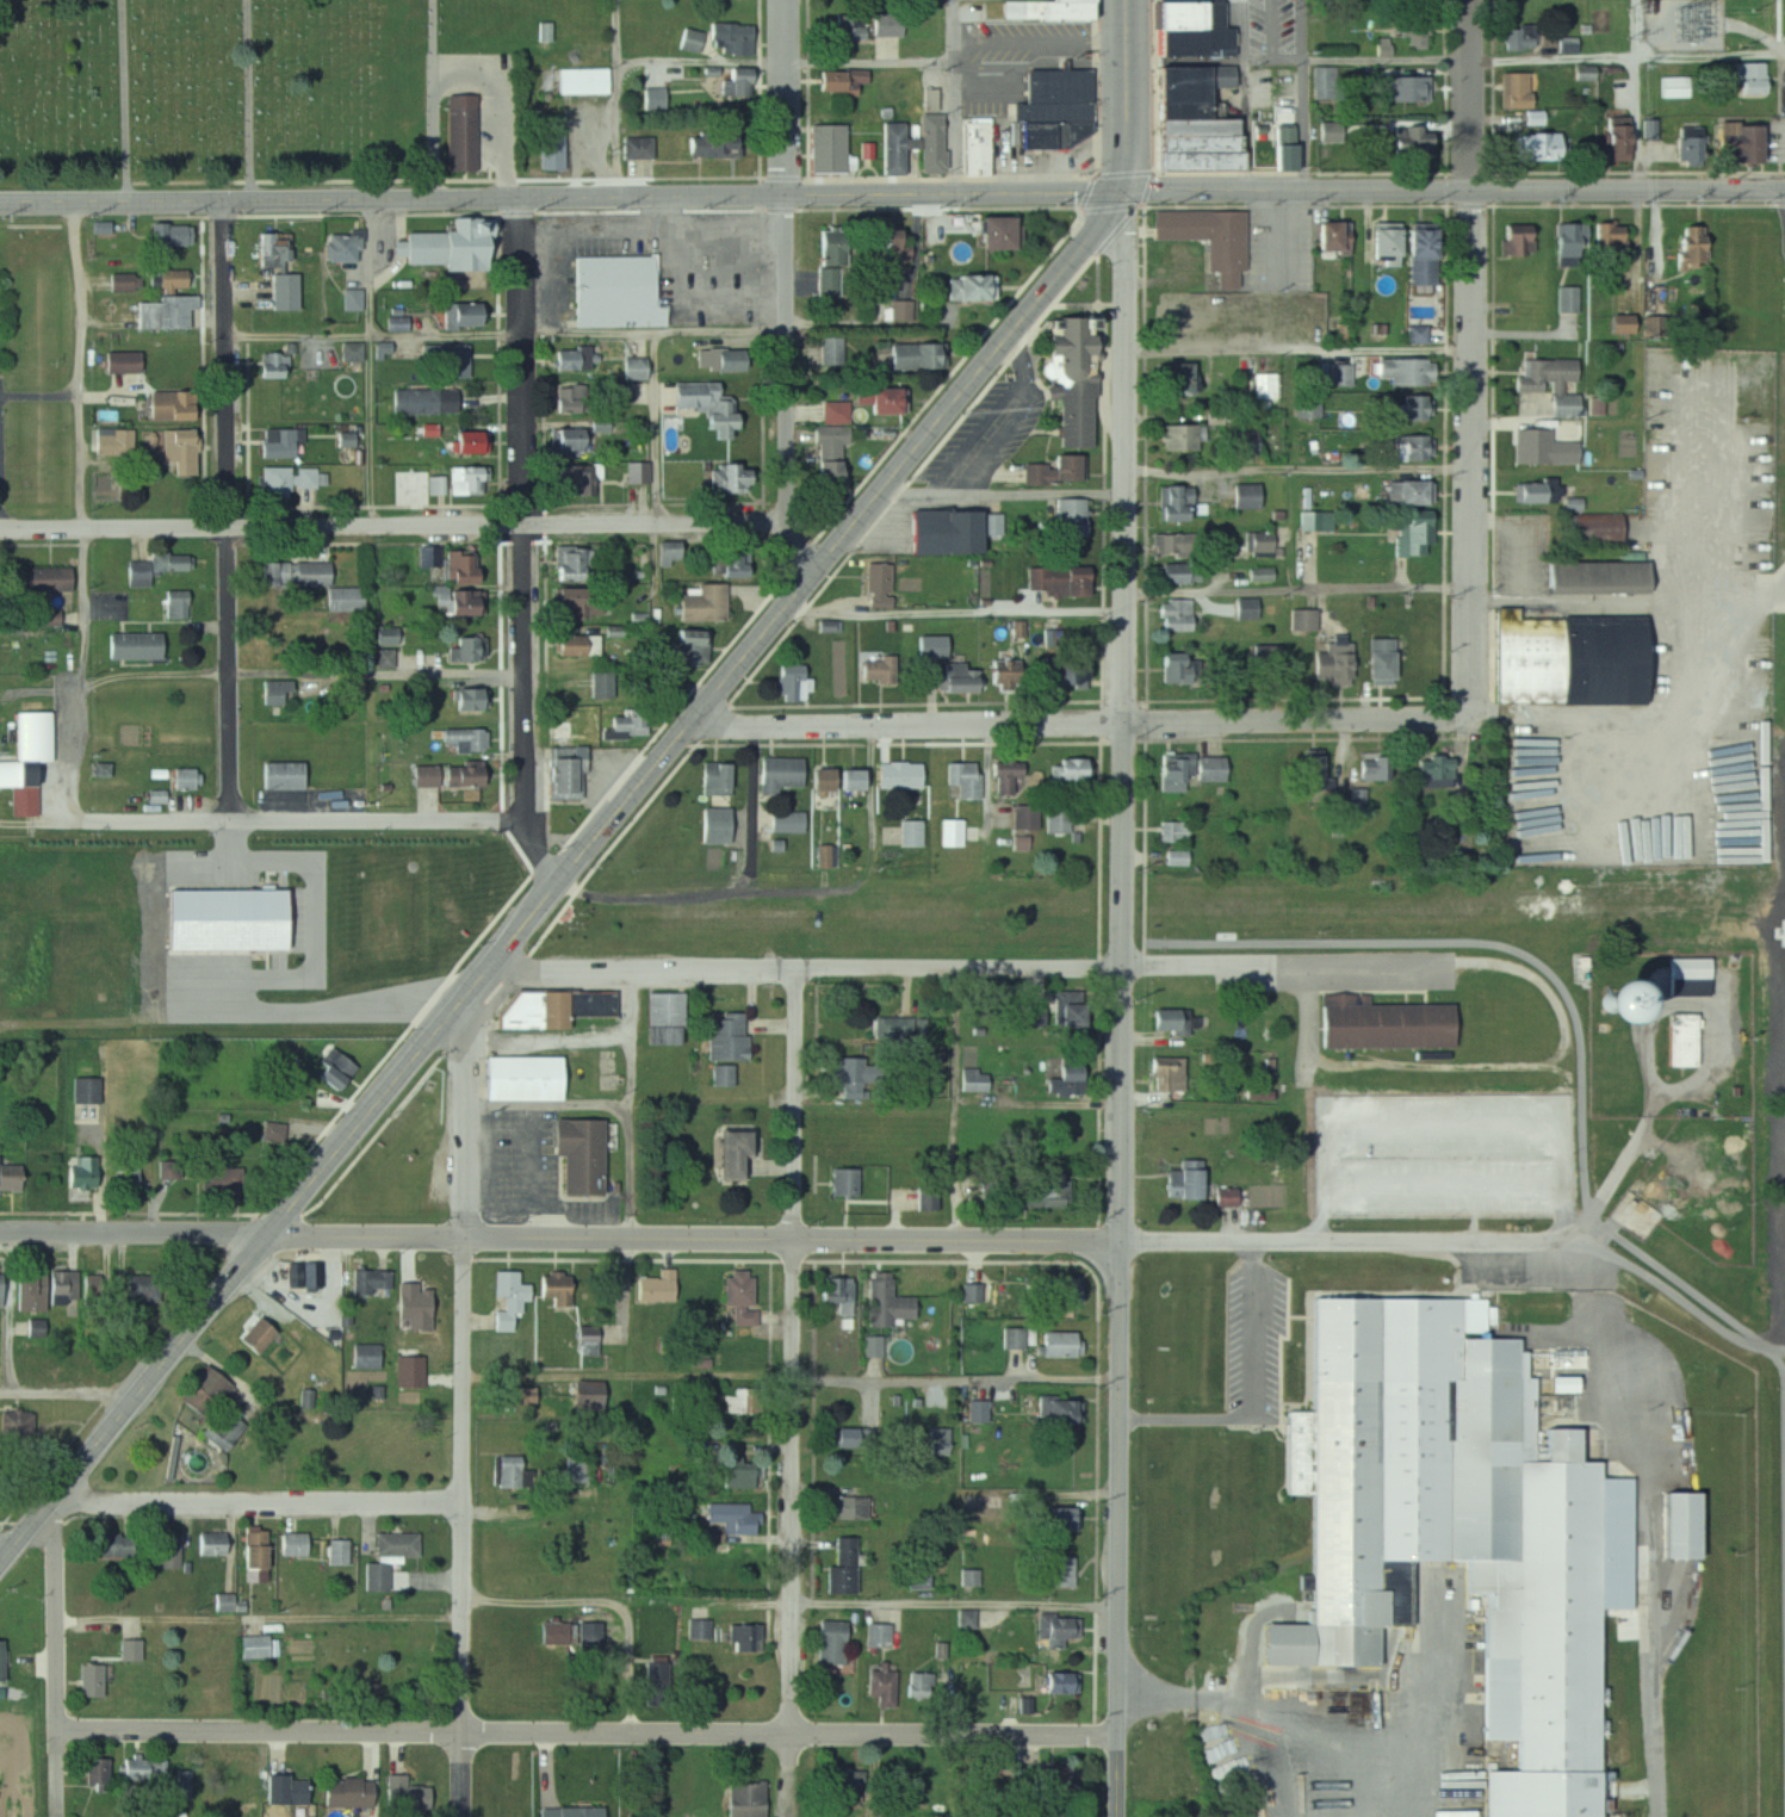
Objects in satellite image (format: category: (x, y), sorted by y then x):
building: (1045, 10)
building: (887, 23)
building: (850, 25)
building: (1191, 27)
building: (1415, 27)
building: (546, 31)
building: (1519, 37)
building: (720, 38)
road: (1041, 42)
road: (1712, 56)
road: (1446, 61)
road: (702, 62)
road: (872, 63)
road: (463, 72)
building: (1748, 77)
building: (582, 80)
building: (839, 80)
building: (736, 81)
building: (1325, 82)
park: (242, 85)
building: (1074, 85)
building: (1674, 86)
building: (1403, 88)
building: (1516, 91)
road: (1306, 95)
road: (956, 98)
road: (618, 99)
building: (653, 99)
building: (1190, 119)
building: (1535, 119)
building: (1050, 123)
building: (1651, 130)
building: (1330, 131)
building: (460, 132)
building: (1405, 138)
building: (1614, 141)
building: (712, 143)
building: (931, 143)
building: (1736, 143)
building: (1691, 144)
building: (1284, 147)
building: (1536, 147)
building: (551, 148)
building: (639, 148)
building: (894, 148)
building: (977, 148)
building: (828, 149)
traffic signals: (1117, 194)
road: (892, 196)
building: (992, 232)
building: (178, 235)
building: (1325, 236)
building: (1208, 238)
building: (1517, 240)
building: (1607, 240)
building: (1384, 242)
building: (1569, 242)
building: (450, 246)
building: (878, 246)
building: (343, 247)
building: (1686, 248)
building: (280, 252)
building: (1421, 254)
building: (831, 262)
road: (225, 269)
road: (372, 271)
building: (181, 278)
building: (129, 281)
building: (968, 286)
road: (1642, 290)
building: (291, 291)
building: (616, 292)
road: (788, 293)
building: (353, 299)
building: (1569, 299)
building: (904, 302)
building: (173, 312)
building: (465, 312)
building: (397, 323)
road: (657, 333)
building: (1417, 334)
road: (376, 339)
building: (383, 347)
building: (832, 349)
building: (353, 352)
road: (1301, 353)
building: (910, 355)
building: (451, 358)
road: (1473, 358)
building: (569, 359)
building: (723, 359)
building: (130, 361)
building: (280, 365)
building: (634, 368)
building: (1406, 371)
building: (1544, 373)
building: (1341, 376)
building: (1173, 378)
building: (1073, 379)
building: (1268, 385)
road: (41, 393)
building: (874, 399)
building: (562, 401)
building: (424, 402)
building: (180, 404)
building: (706, 404)
building: (1308, 404)
building: (1563, 405)
building: (1412, 408)
building: (833, 411)
road: (658, 429)
building: (1180, 436)
building: (119, 441)
building: (292, 441)
building: (566, 441)
building: (465, 442)
building: (1246, 442)
building: (830, 446)
building: (1412, 447)
building: (179, 448)
building: (1532, 449)
road: (85, 451)
road: (1300, 470)
building: (638, 471)
building: (1052, 471)
building: (727, 477)
building: (298, 479)
building: (465, 479)
building: (578, 479)
building: (436, 485)
building: (1403, 491)
building: (1536, 491)
building: (1246, 495)
road: (1712, 495)
road: (1006, 496)
road: (1, 502)
building: (1174, 502)
building: (1573, 504)
building: (1066, 517)
building: (1316, 520)
building: (996, 523)
road: (659, 525)
road: (262, 527)
building: (1593, 528)
building: (943, 532)
building: (1415, 532)
road: (1519, 537)
building: (1177, 542)
building: (1259, 544)
road: (526, 546)
building: (430, 556)
building: (572, 562)
building: (457, 565)
building: (162, 566)
building: (1179, 572)
building: (303, 573)
building: (1594, 577)
building: (47, 578)
road: (230, 579)
building: (1058, 579)
building: (1, 581)
road: (373, 581)
building: (878, 585)
road: (1300, 593)
building: (352, 597)
road: (1629, 597)
building: (457, 600)
building: (702, 601)
building: (579, 602)
building: (181, 603)
building: (1247, 607)
road: (955, 612)
building: (1177, 615)
building: (1303, 619)
building: (830, 626)
building: (386, 634)
building: (142, 645)
building: (582, 645)
building: (689, 646)
building: (464, 647)
building: (386, 658)
building: (1569, 659)
building: (1333, 664)
building: (1268, 666)
building: (1377, 666)
building: (1173, 668)
building: (879, 670)
building: (1004, 674)
road: (237, 675)
building: (1071, 675)
building: (957, 677)
building: (792, 683)
building: (602, 684)
building: (281, 693)
building: (464, 699)
road: (1587, 719)
road: (1299, 721)
building: (625, 723)
road: (910, 726)
road: (1703, 734)
building: (463, 739)
building: (562, 759)
building: (33, 761)
building: (1372, 769)
building: (1436, 769)
building: (1071, 770)
building: (1189, 770)
building: (1315, 771)
building: (780, 774)
building: (290, 775)
building: (452, 775)
building: (899, 775)
building: (1004, 776)
building: (193, 779)
building: (715, 779)
building: (818, 779)
building: (965, 779)
building: (850, 780)
road: (624, 807)
road: (755, 807)
building: (1060, 817)
building: (1025, 818)
road: (304, 821)
building: (788, 821)
building: (714, 825)
building: (1174, 832)
building: (911, 833)
building: (1177, 858)
road: (988, 861)
road: (791, 885)
road: (1341, 960)
road: (1126, 965)
road: (810, 969)
building: (1688, 976)
road: (279, 980)
water tower: (1613, 1000)
building: (562, 1007)
building: (1065, 1010)
building: (673, 1018)
building: (1176, 1021)
building: (1383, 1023)
building: (899, 1027)
building: (735, 1037)
road: (627, 1038)
building: (1679, 1040)
building: (343, 1068)
building: (1165, 1074)
building: (730, 1075)
building: (863, 1077)
building: (529, 1078)
building: (977, 1081)
building: (1065, 1081)
building: (93, 1090)
road: (630, 1103)
road: (957, 1105)
road: (1041, 1105)
building: (278, 1133)
building: (745, 1154)
building: (588, 1156)
building: (175, 1168)
road: (630, 1171)
building: (91, 1173)
building: (13, 1176)
building: (136, 1176)
building: (235, 1177)
building: (1185, 1180)
building: (851, 1182)
building: (1050, 1191)
building: (935, 1197)
building: (1225, 1198)
road: (131, 1234)
road: (372, 1239)
road: (795, 1239)
road: (1468, 1242)
building: (317, 1275)
building: (377, 1280)
building: (5, 1286)
building: (70, 1288)
building: (149, 1288)
building: (565, 1288)
building: (663, 1288)
building: (104, 1289)
building: (38, 1291)
building: (847, 1291)
building: (1056, 1291)
building: (748, 1296)
building: (515, 1301)
building: (894, 1302)
road: (7, 1317)
building: (266, 1335)
building: (596, 1340)
building: (1058, 1344)
building: (880, 1347)
road: (795, 1351)
building: (372, 1357)
road: (465, 1366)
road: (794, 1377)
building: (212, 1391)
building: (596, 1395)
building: (748, 1401)
road: (66, 1402)
building: (985, 1412)
building: (231, 1431)
building: (860, 1438)
building: (946, 1441)
building: (582, 1470)
building: (515, 1472)
building: (745, 1475)
road: (632, 1486)
building: (990, 1501)
road: (259, 1503)
building: (854, 1508)
building: (725, 1512)
building: (1059, 1520)
building: (1674, 1526)
building: (1451, 1527)
building: (300, 1544)
building: (124, 1545)
building: (265, 1550)
building: (173, 1551)
building: (343, 1552)
building: (396, 1558)
road: (1, 1559)
building: (851, 1567)
building: (1060, 1573)
road: (792, 1604)
road: (261, 1618)
building: (972, 1619)
building: (706, 1629)
building: (1055, 1629)
building: (563, 1632)
building: (885, 1636)
building: (751, 1637)
building: (839, 1642)
building: (265, 1647)
road: (58, 1657)
building: (5, 1661)
building: (100, 1681)
building: (1070, 1683)
building: (890, 1686)
road: (589, 1732)
building: (149, 1769)
building: (104, 1771)
road: (461, 1774)
road: (1118, 1778)
building: (191, 1782)
building: (859, 1784)
building: (295, 1791)
building: (357, 1791)
building: (414, 1796)
building: (752, 1799)
building: (577, 1812)

